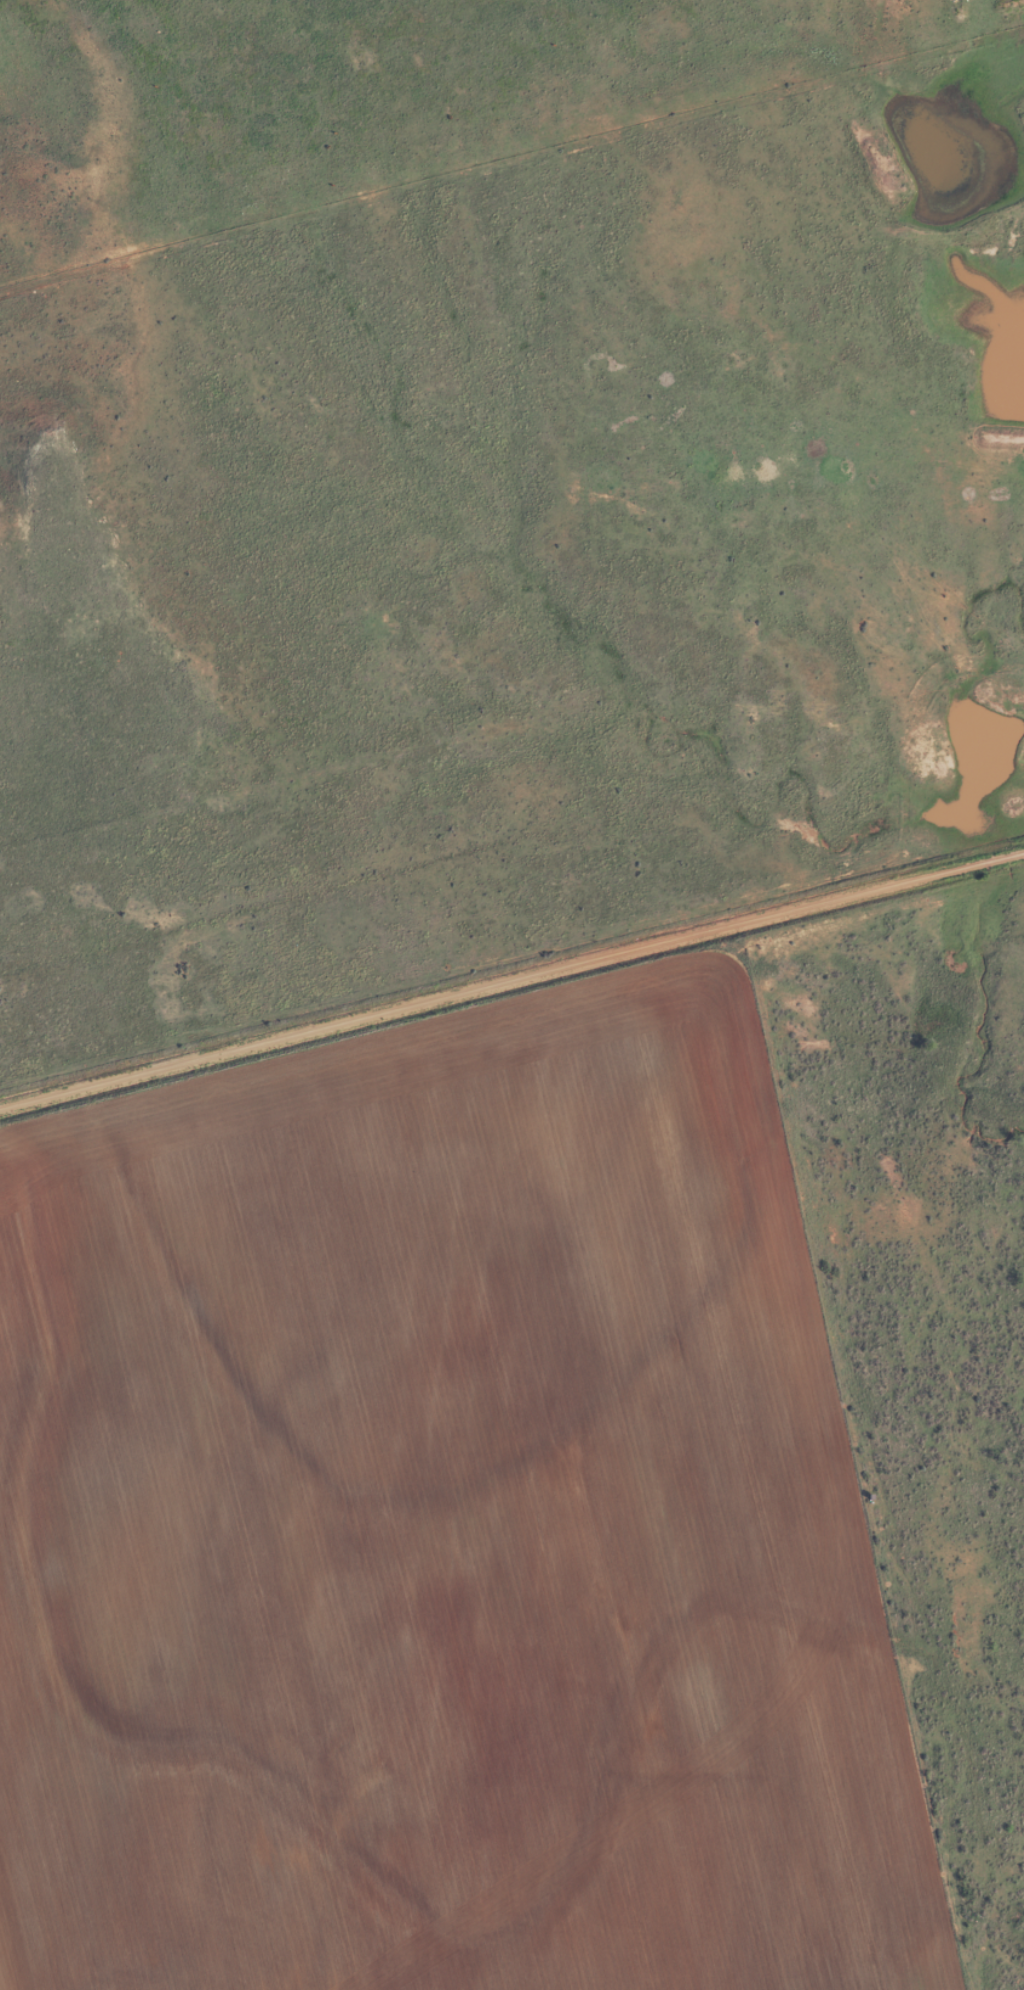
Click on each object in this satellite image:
road: (511, 965)

